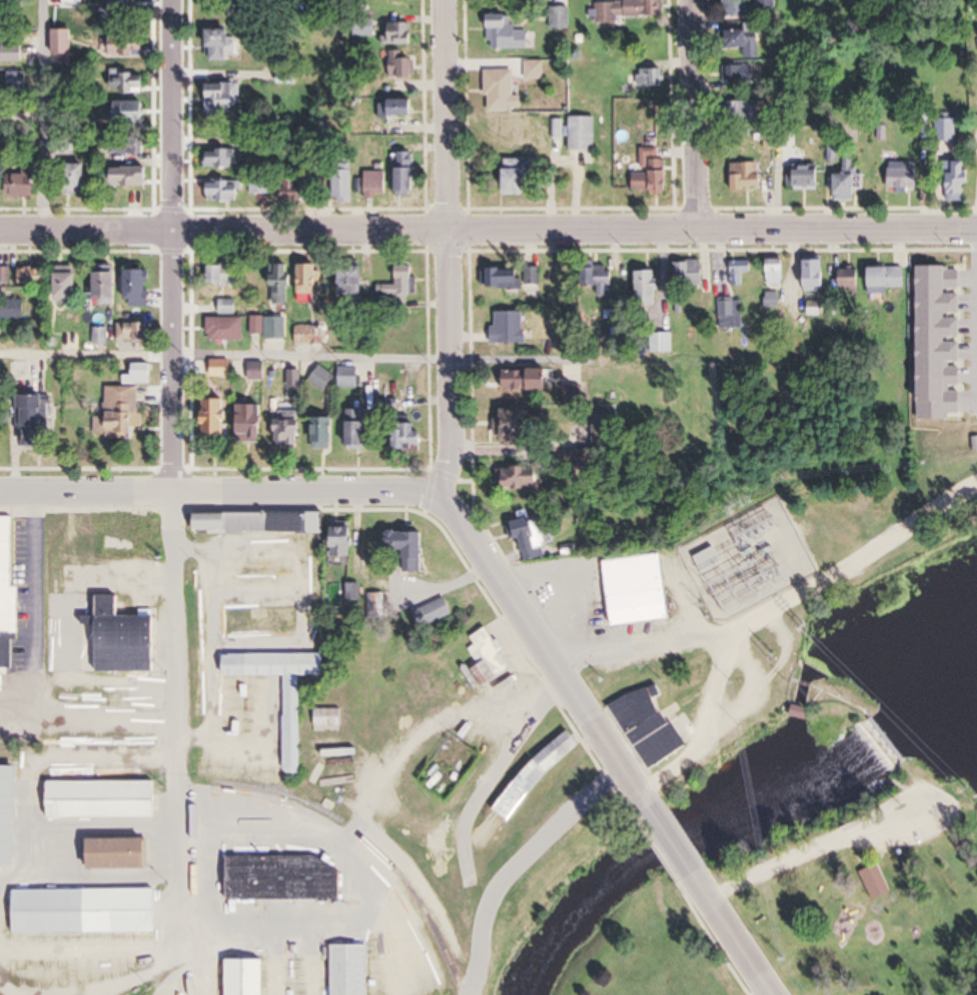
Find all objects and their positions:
building: (75, 4)
building: (396, 7)
building: (737, 8)
building: (124, 9)
building: (627, 9)
building: (508, 34)
building: (398, 35)
building: (1, 41)
building: (744, 42)
building: (63, 43)
building: (223, 46)
building: (127, 47)
building: (14, 54)
building: (402, 66)
building: (536, 70)
building: (738, 74)
building: (652, 78)
building: (17, 82)
building: (127, 83)
building: (501, 90)
building: (226, 99)
building: (399, 108)
building: (746, 112)
building: (131, 113)
road: (445, 115)
road: (696, 115)
road: (47, 116)
road: (174, 116)
building: (584, 133)
building: (132, 148)
building: (223, 159)
building: (409, 173)
building: (653, 173)
building: (749, 176)
building: (519, 177)
building: (808, 177)
building: (134, 178)
building: (911, 179)
building: (80, 180)
building: (958, 181)
building: (25, 184)
building: (377, 185)
building: (261, 186)
building: (344, 187)
building: (848, 187)
building: (296, 189)
building: (230, 191)
road: (488, 230)
building: (741, 271)
building: (779, 271)
building: (691, 272)
building: (5, 273)
building: (223, 274)
building: (33, 275)
building: (816, 275)
building: (511, 276)
building: (605, 277)
building: (310, 278)
building: (356, 279)
building: (889, 279)
building: (68, 282)
building: (281, 282)
building: (403, 282)
building: (109, 283)
building: (140, 286)
building: (649, 286)
building: (774, 300)
building: (226, 303)
building: (732, 313)
building: (272, 326)
building: (511, 327)
building: (229, 328)
building: (135, 331)
building: (663, 342)
road: (224, 355)
road: (449, 361)
road: (176, 363)
building: (223, 368)
building: (259, 370)
building: (351, 377)
building: (322, 378)
building: (529, 379)
building: (126, 410)
building: (222, 416)
building: (40, 421)
building: (255, 421)
building: (517, 423)
building: (292, 427)
building: (359, 429)
building: (325, 432)
building: (411, 437)
building: (525, 477)
road: (225, 493)
building: (263, 522)
building: (134, 533)
building: (530, 534)
building: (348, 540)
building: (410, 551)
building: (711, 560)
power substation: (749, 560)
building: (7, 574)
road: (35, 574)
building: (640, 589)
building: (203, 590)
building: (321, 600)
building: (375, 605)
road: (779, 605)
building: (434, 612)
building: (265, 621)
park: (808, 638)
building: (127, 639)
road: (550, 649)
building: (488, 661)
building: (203, 668)
road: (753, 688)
dam: (835, 695)
building: (241, 700)
road: (179, 718)
building: (330, 718)
road: (711, 722)
building: (653, 726)
dam: (891, 737)
river: (934, 743)
building: (538, 775)
building: (103, 802)
building: (10, 815)
river: (684, 833)
railway: (367, 839)
road: (672, 839)
building: (123, 853)
park: (550, 856)
road: (517, 863)
road: (521, 875)
building: (279, 884)
building: (871, 884)
park: (861, 893)
building: (87, 910)
road: (733, 934)
building: (353, 970)
building: (249, 977)

